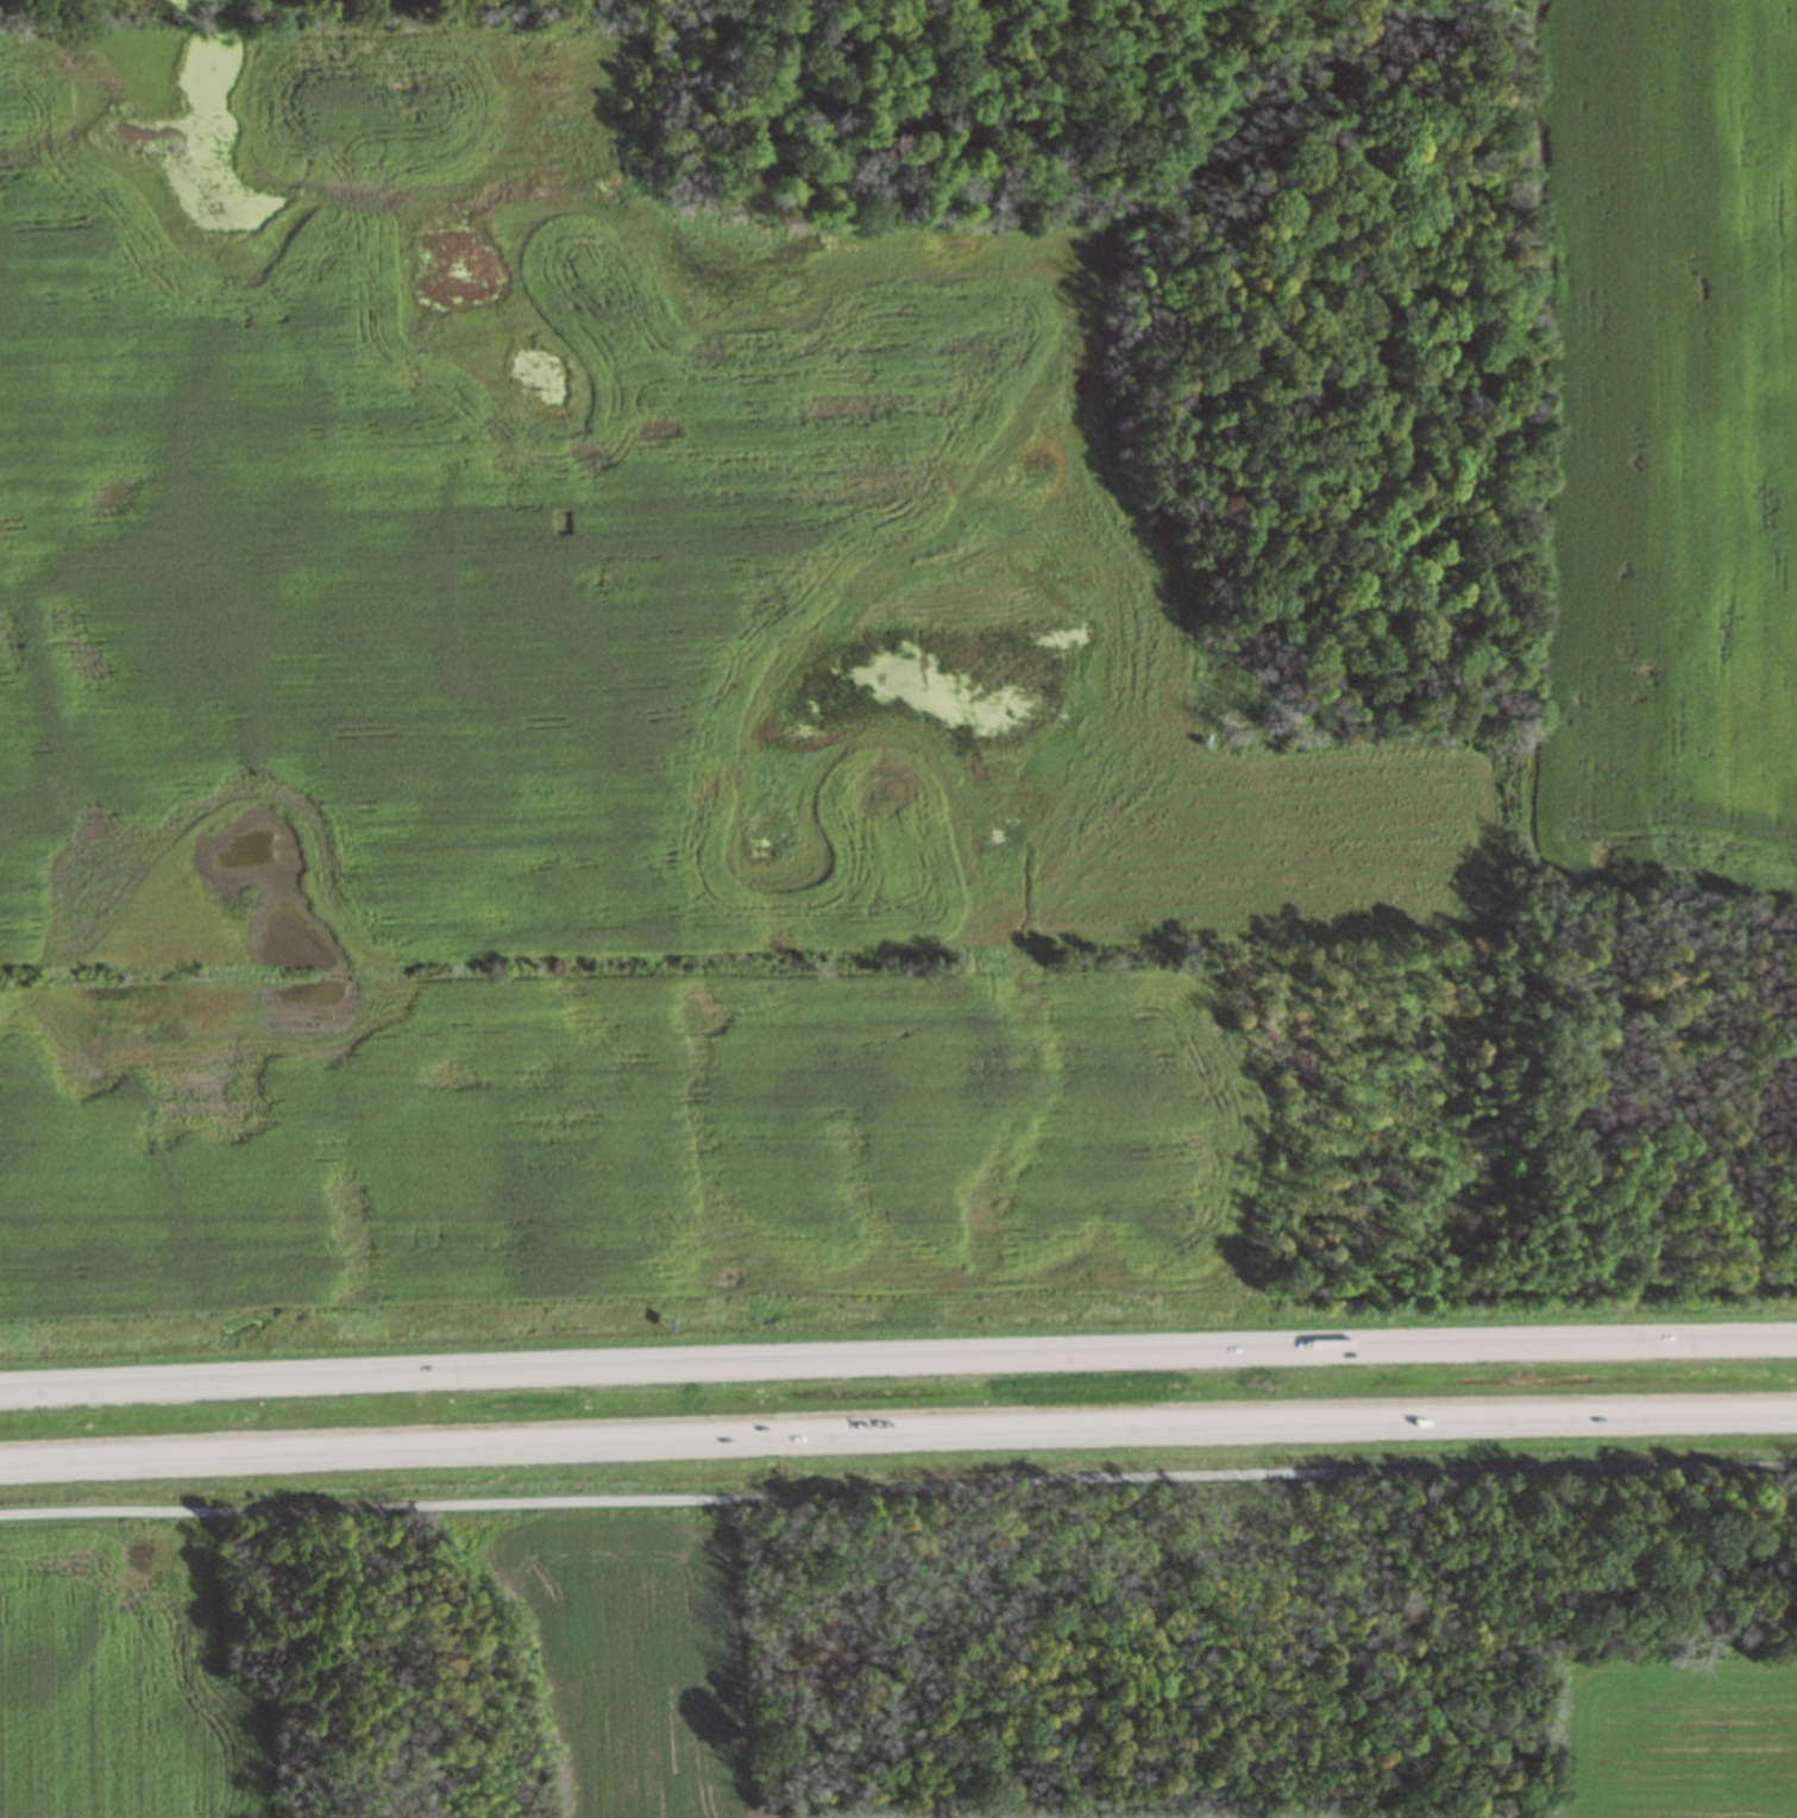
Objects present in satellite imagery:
road: (898, 1359)
road: (898, 1430)
road: (898, 1490)

